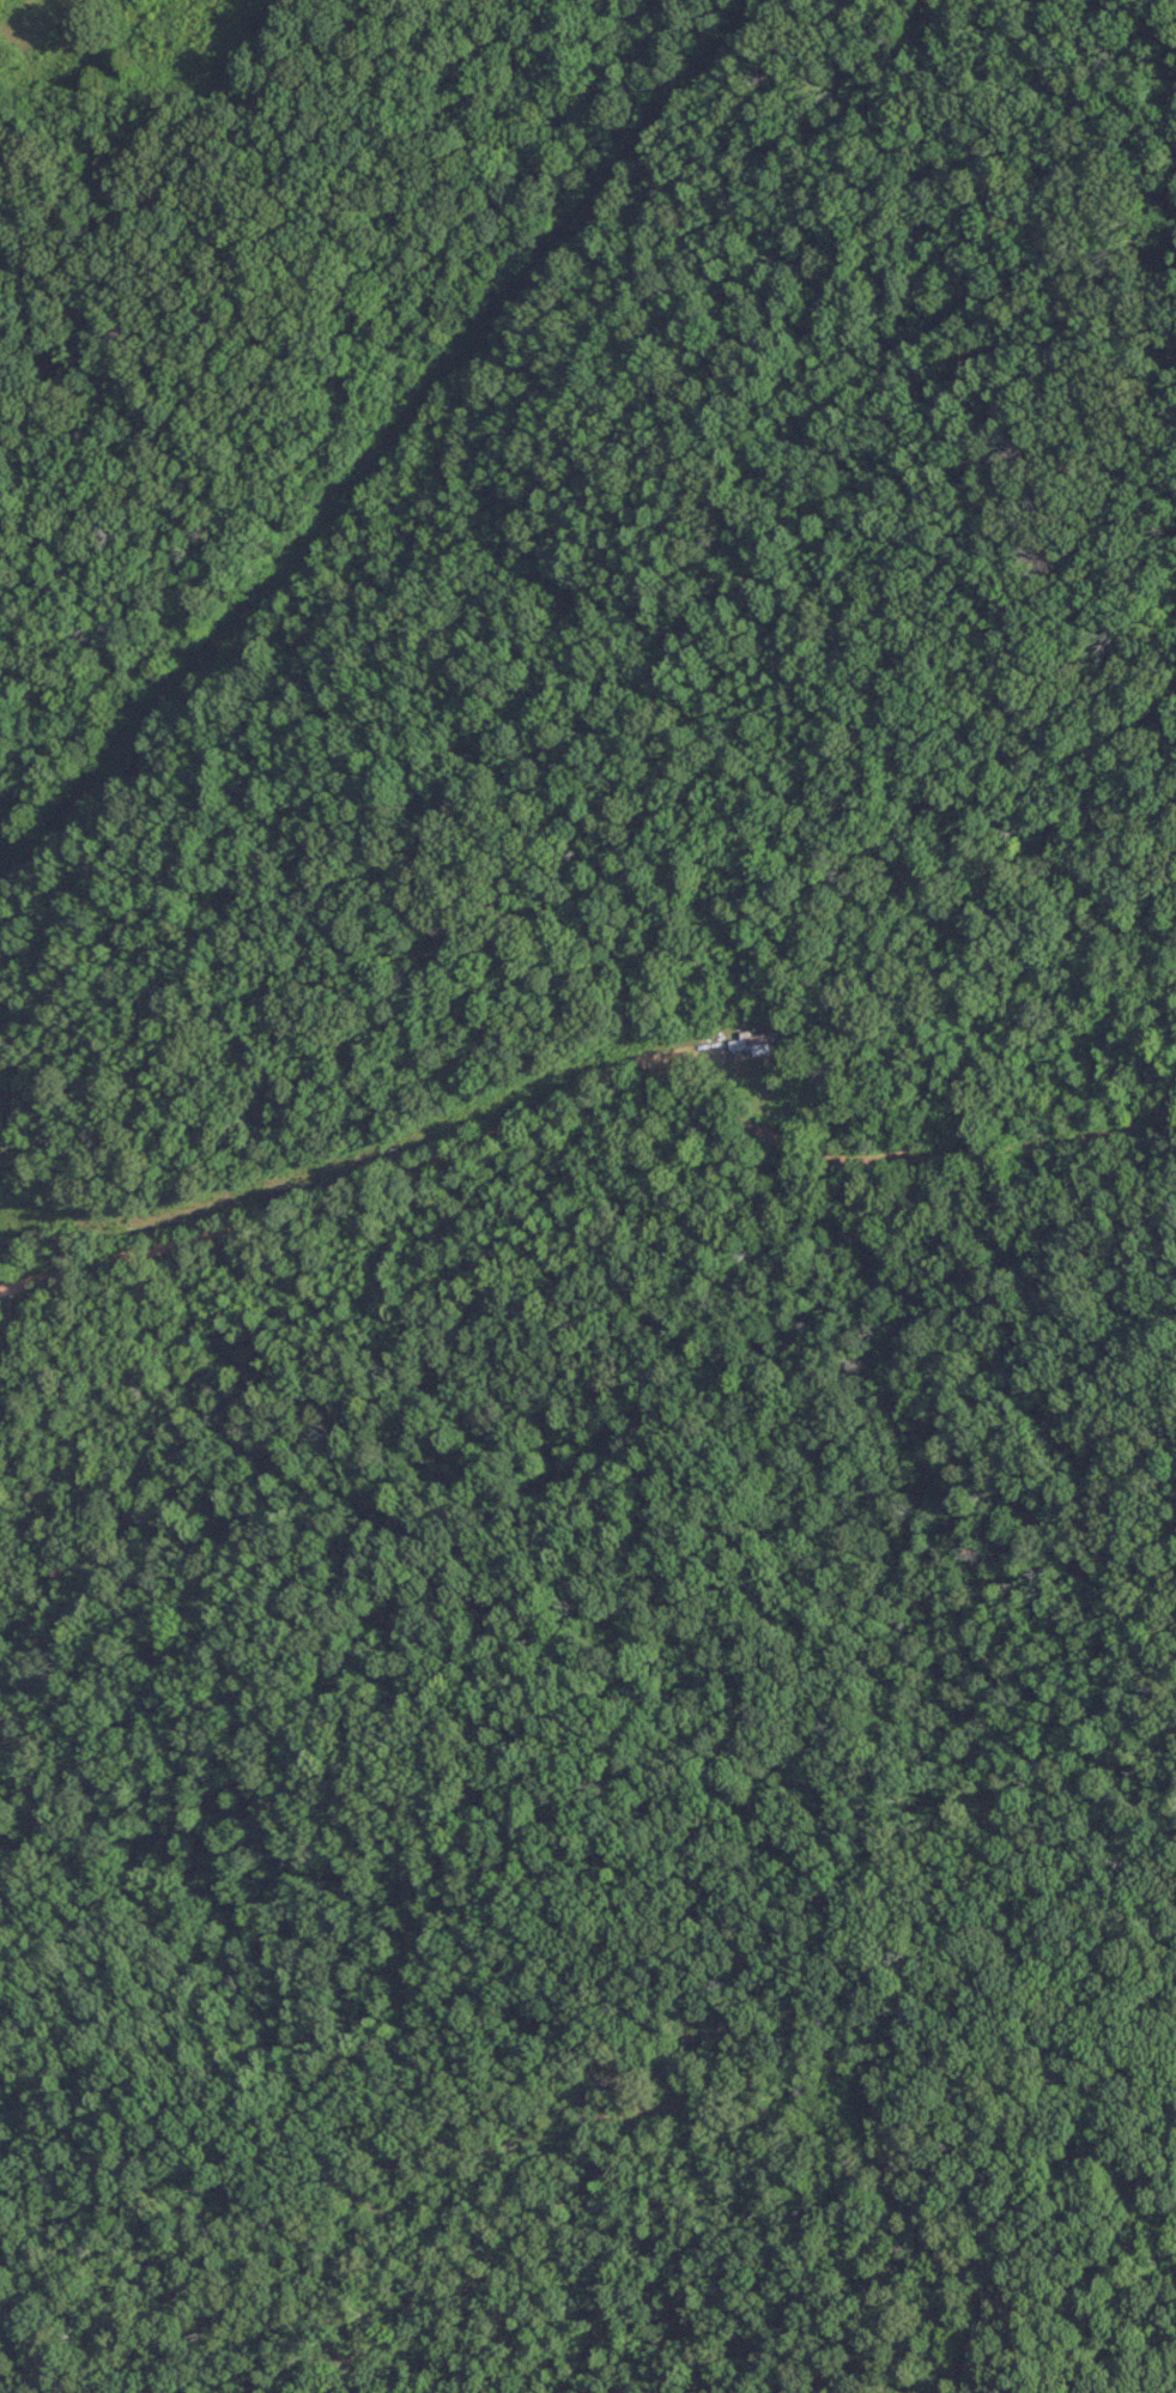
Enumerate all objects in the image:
building: (762, 1045)
road: (580, 1104)

